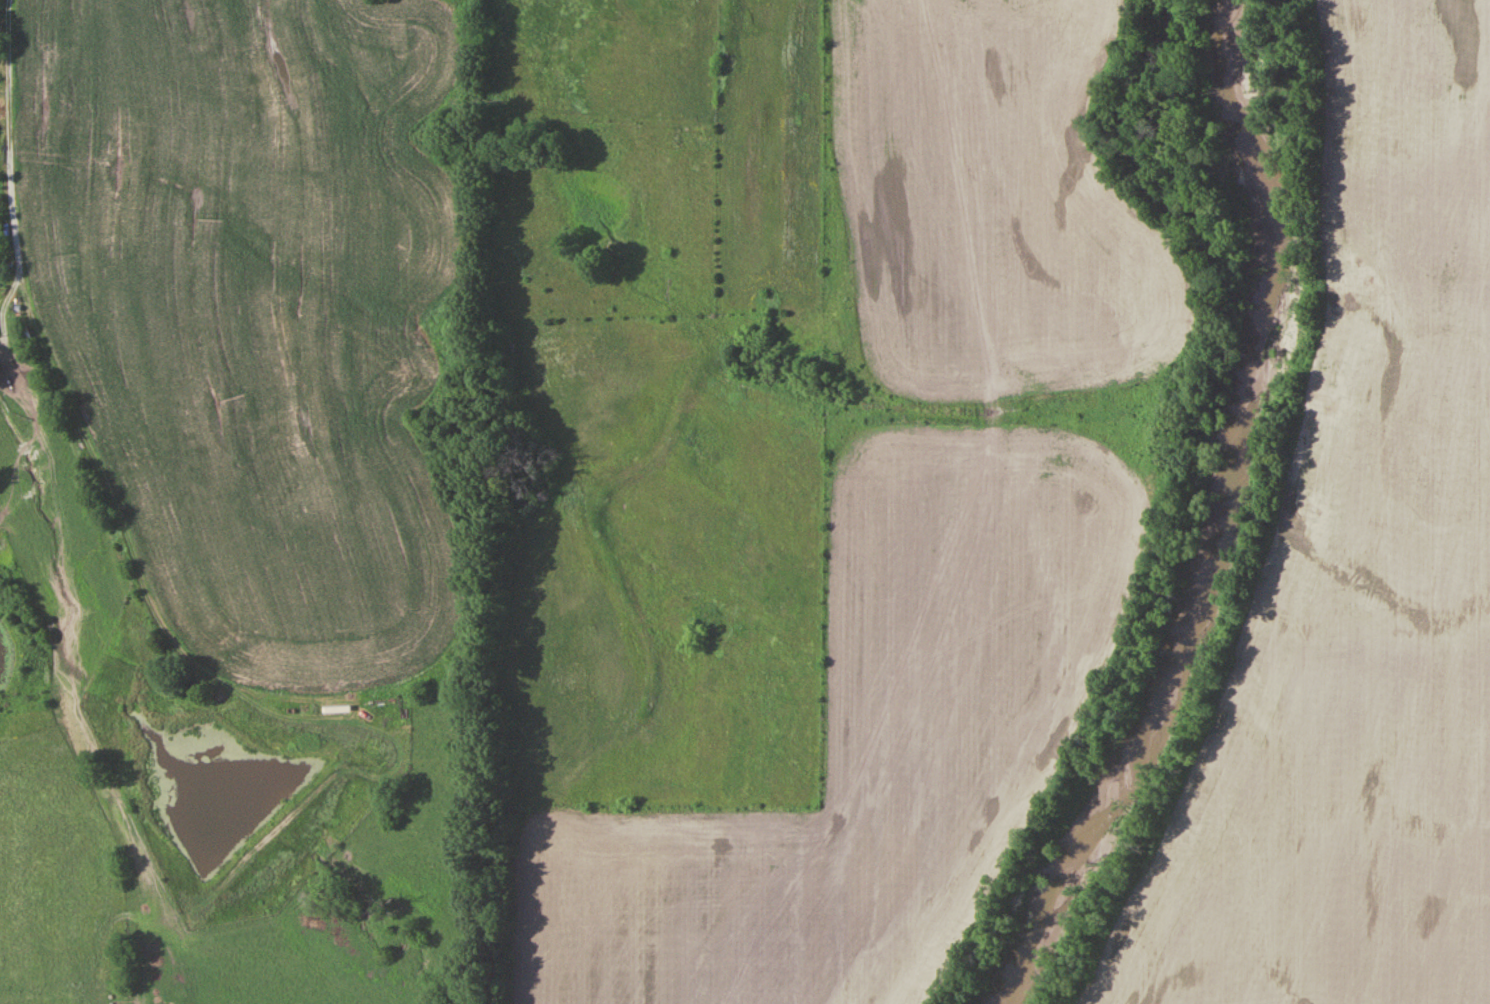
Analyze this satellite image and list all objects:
road: (91, 440)

